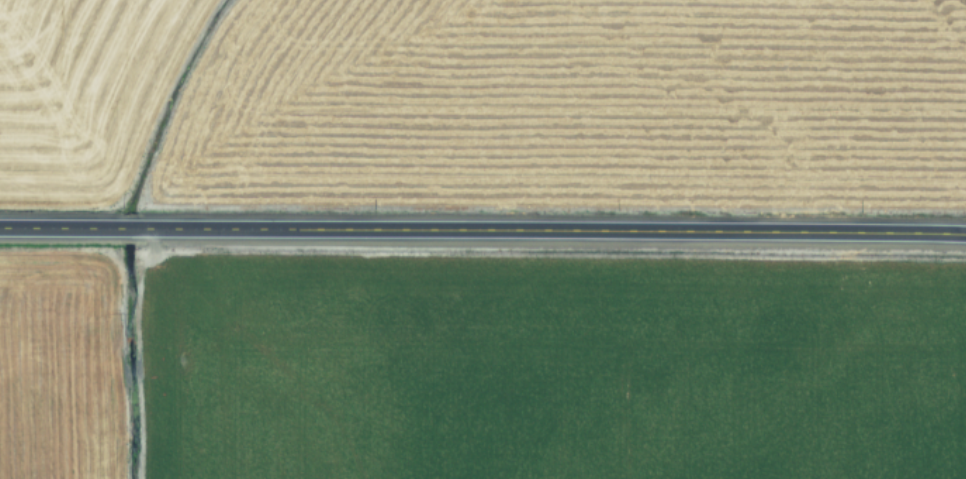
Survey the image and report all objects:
crop: (487, 94)
road: (483, 226)
crop: (480, 377)

